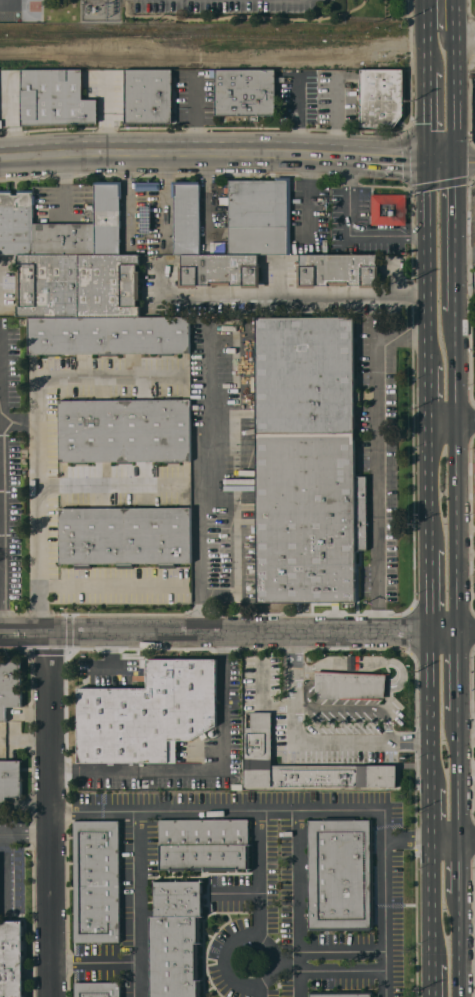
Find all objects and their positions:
road: (4, 3)
parking lot: (226, 5)
power substation: (100, 9)
road: (437, 15)
road: (460, 43)
road: (431, 50)
building: (245, 92)
road: (453, 93)
building: (1, 96)
building: (52, 96)
building: (148, 96)
building: (381, 97)
road: (106, 112)
road: (196, 114)
road: (428, 116)
road: (182, 151)
road: (396, 158)
road: (441, 160)
traffic signals: (455, 160)
road: (465, 160)
traffic signals: (428, 161)
building: (147, 186)
road: (309, 194)
building: (388, 209)
building: (186, 216)
building: (259, 216)
building: (107, 217)
building: (39, 230)
road: (351, 232)
road: (454, 239)
road: (428, 262)
building: (338, 269)
building: (219, 270)
building: (474, 279)
building: (48, 285)
building: (109, 285)
road: (279, 296)
building: (108, 335)
building: (304, 374)
road: (428, 393)
road: (451, 421)
building: (124, 430)
road: (38, 439)
road: (376, 458)
road: (456, 473)
road: (3, 485)
road: (106, 485)
road: (430, 485)
road: (204, 490)
building: (308, 517)
building: (125, 536)
road: (107, 587)
road: (431, 588)
road: (453, 628)
road: (215, 632)
road: (108, 655)
road: (458, 670)
building: (349, 685)
building: (9, 686)
road: (431, 707)
building: (148, 713)
road: (306, 740)
building: (302, 765)
road: (206, 771)
road: (459, 778)
building: (9, 780)
road: (310, 810)
road: (432, 815)
road: (49, 816)
road: (25, 834)
road: (408, 840)
road: (453, 844)
building: (204, 845)
road: (5, 871)
road: (460, 871)
road: (259, 873)
building: (339, 875)
building: (97, 881)
road: (137, 886)
road: (301, 903)
road: (431, 904)
building: (176, 939)
road: (460, 947)
building: (11, 959)
road: (112, 961)
road: (289, 963)
road: (271, 975)
road: (431, 980)
building: (98, 989)
road: (258, 991)
building: (341, 994)

